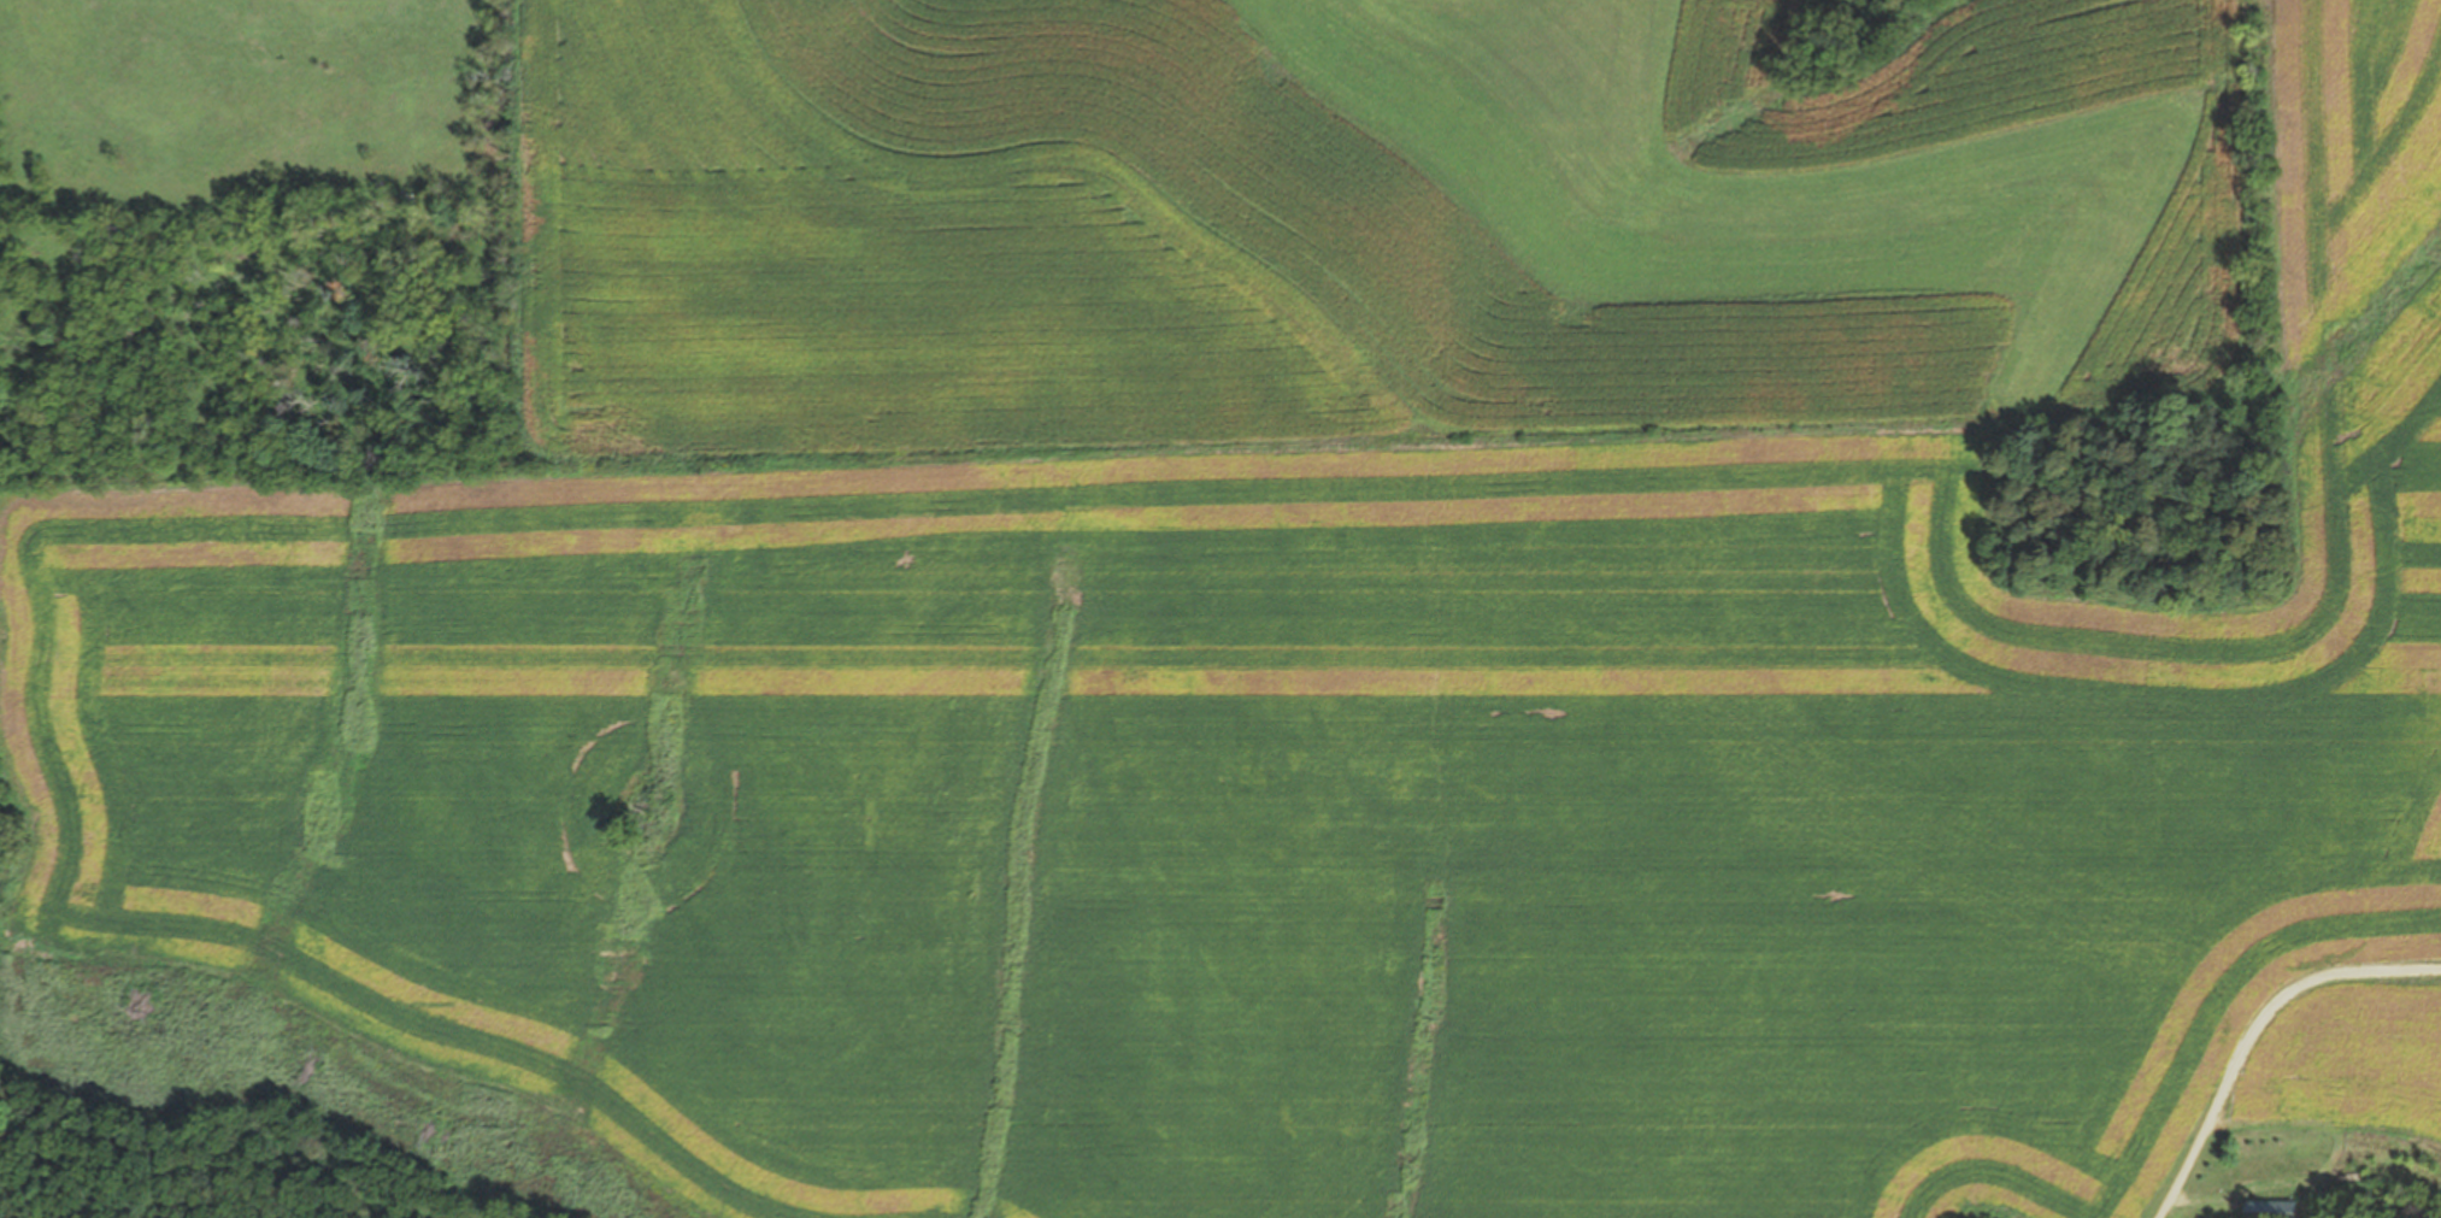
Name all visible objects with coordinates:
road: (2270, 1016)
building: (2270, 1210)

